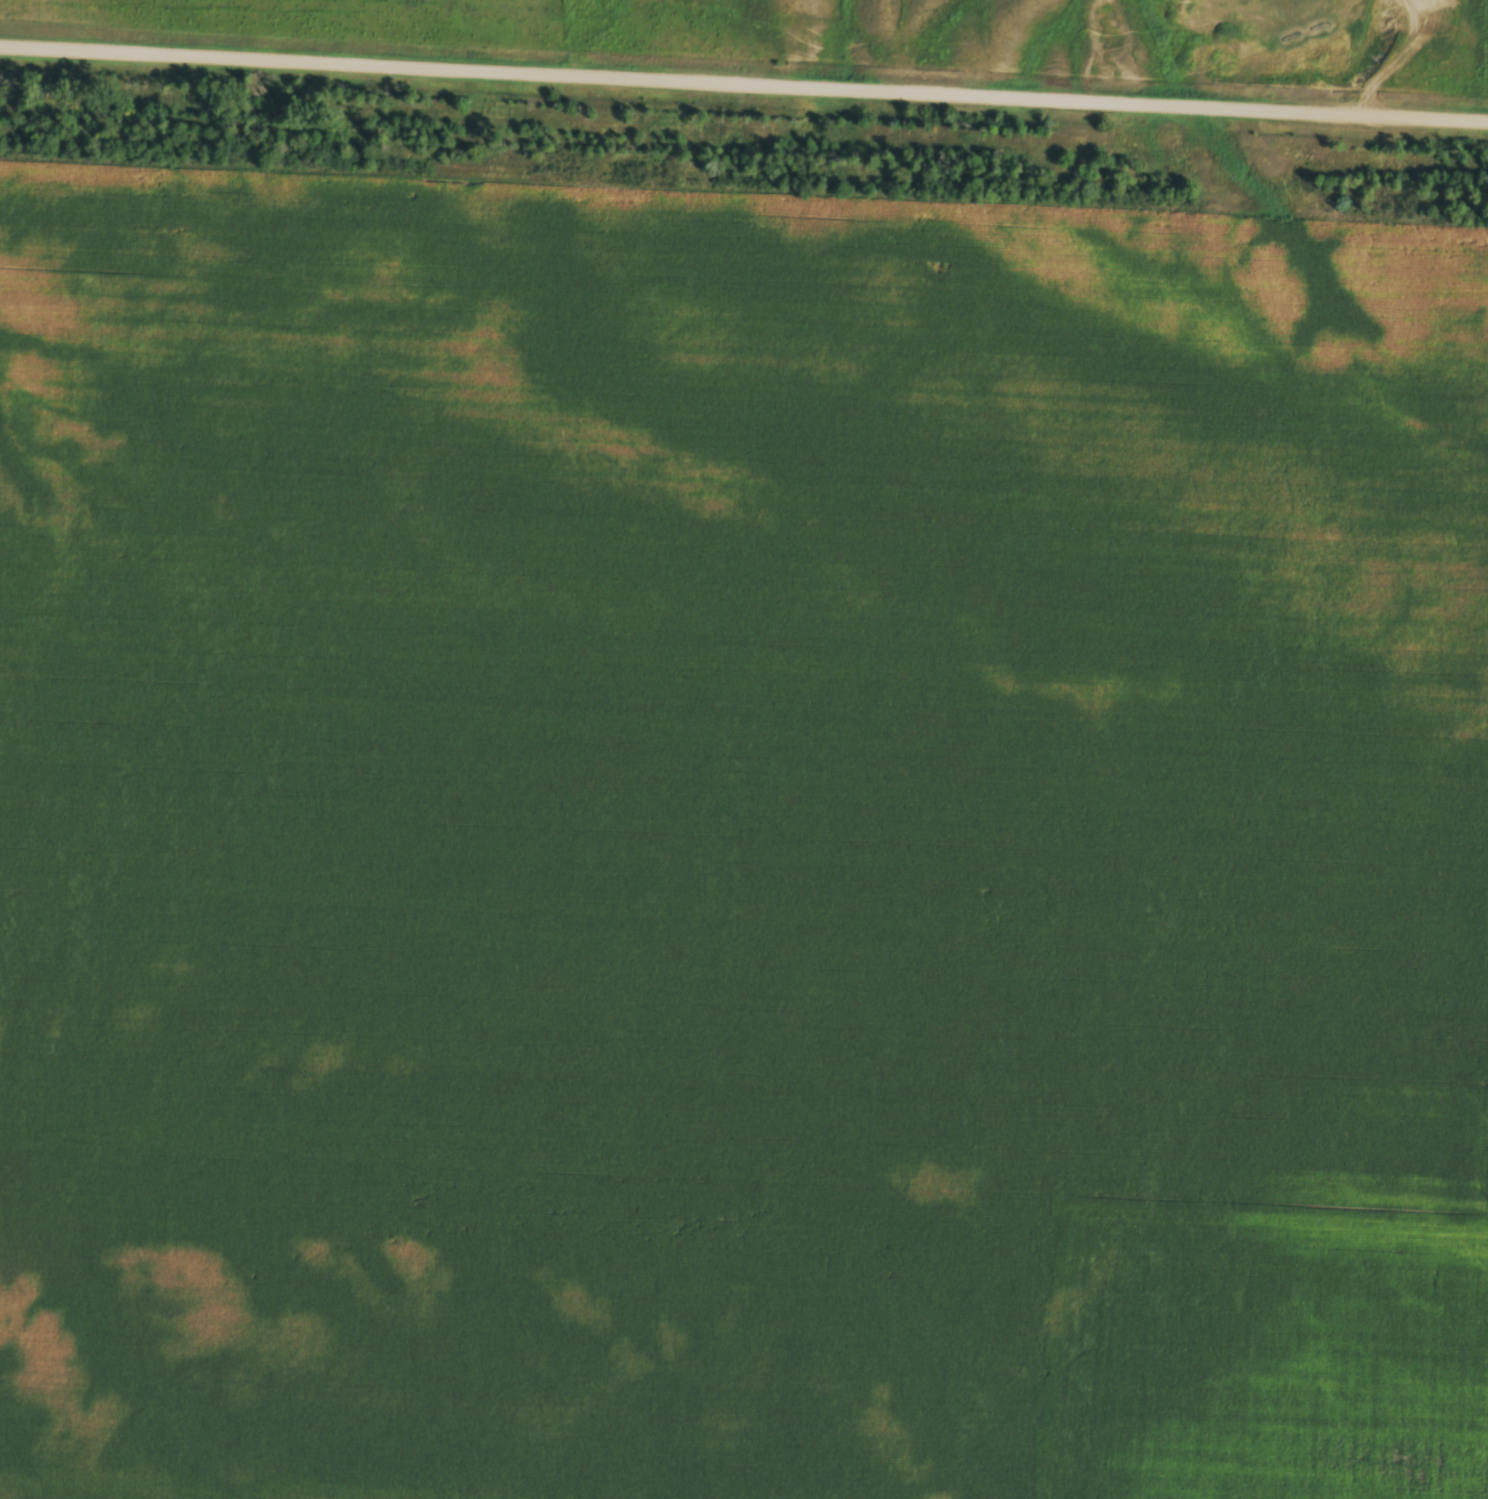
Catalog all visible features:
road: (744, 79)

